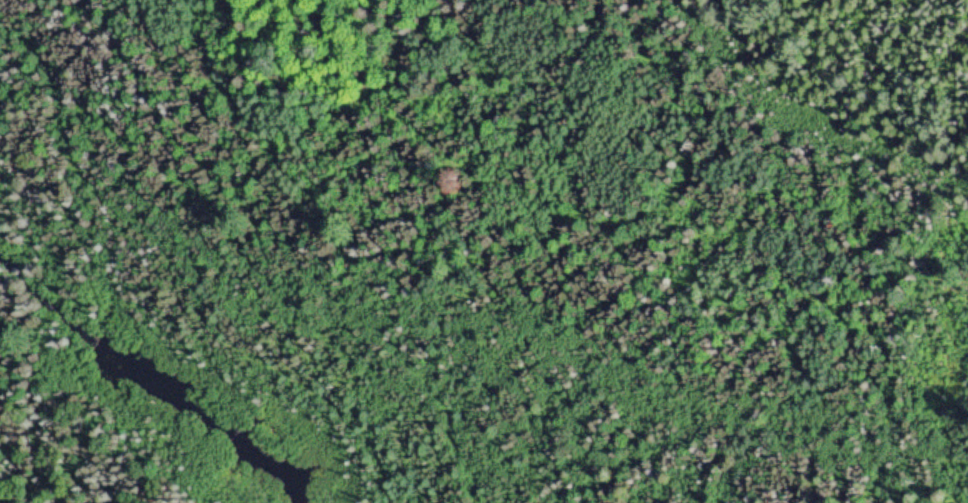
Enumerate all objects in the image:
river: (150, 400)

